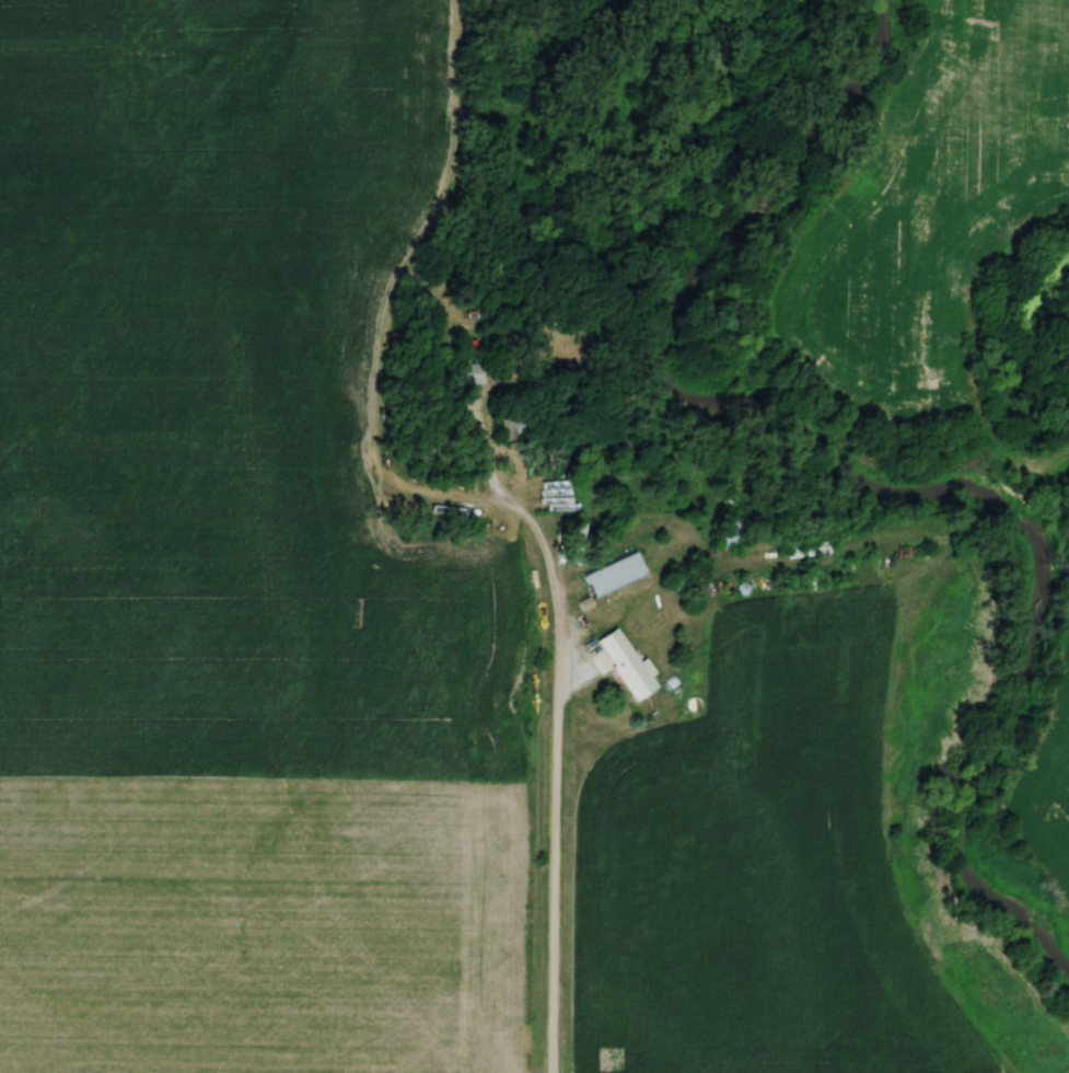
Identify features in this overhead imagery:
building: (470, 368)
building: (510, 429)
river: (851, 482)
road: (545, 557)
building: (613, 576)
building: (625, 666)
crop: (1054, 799)
road: (555, 889)

